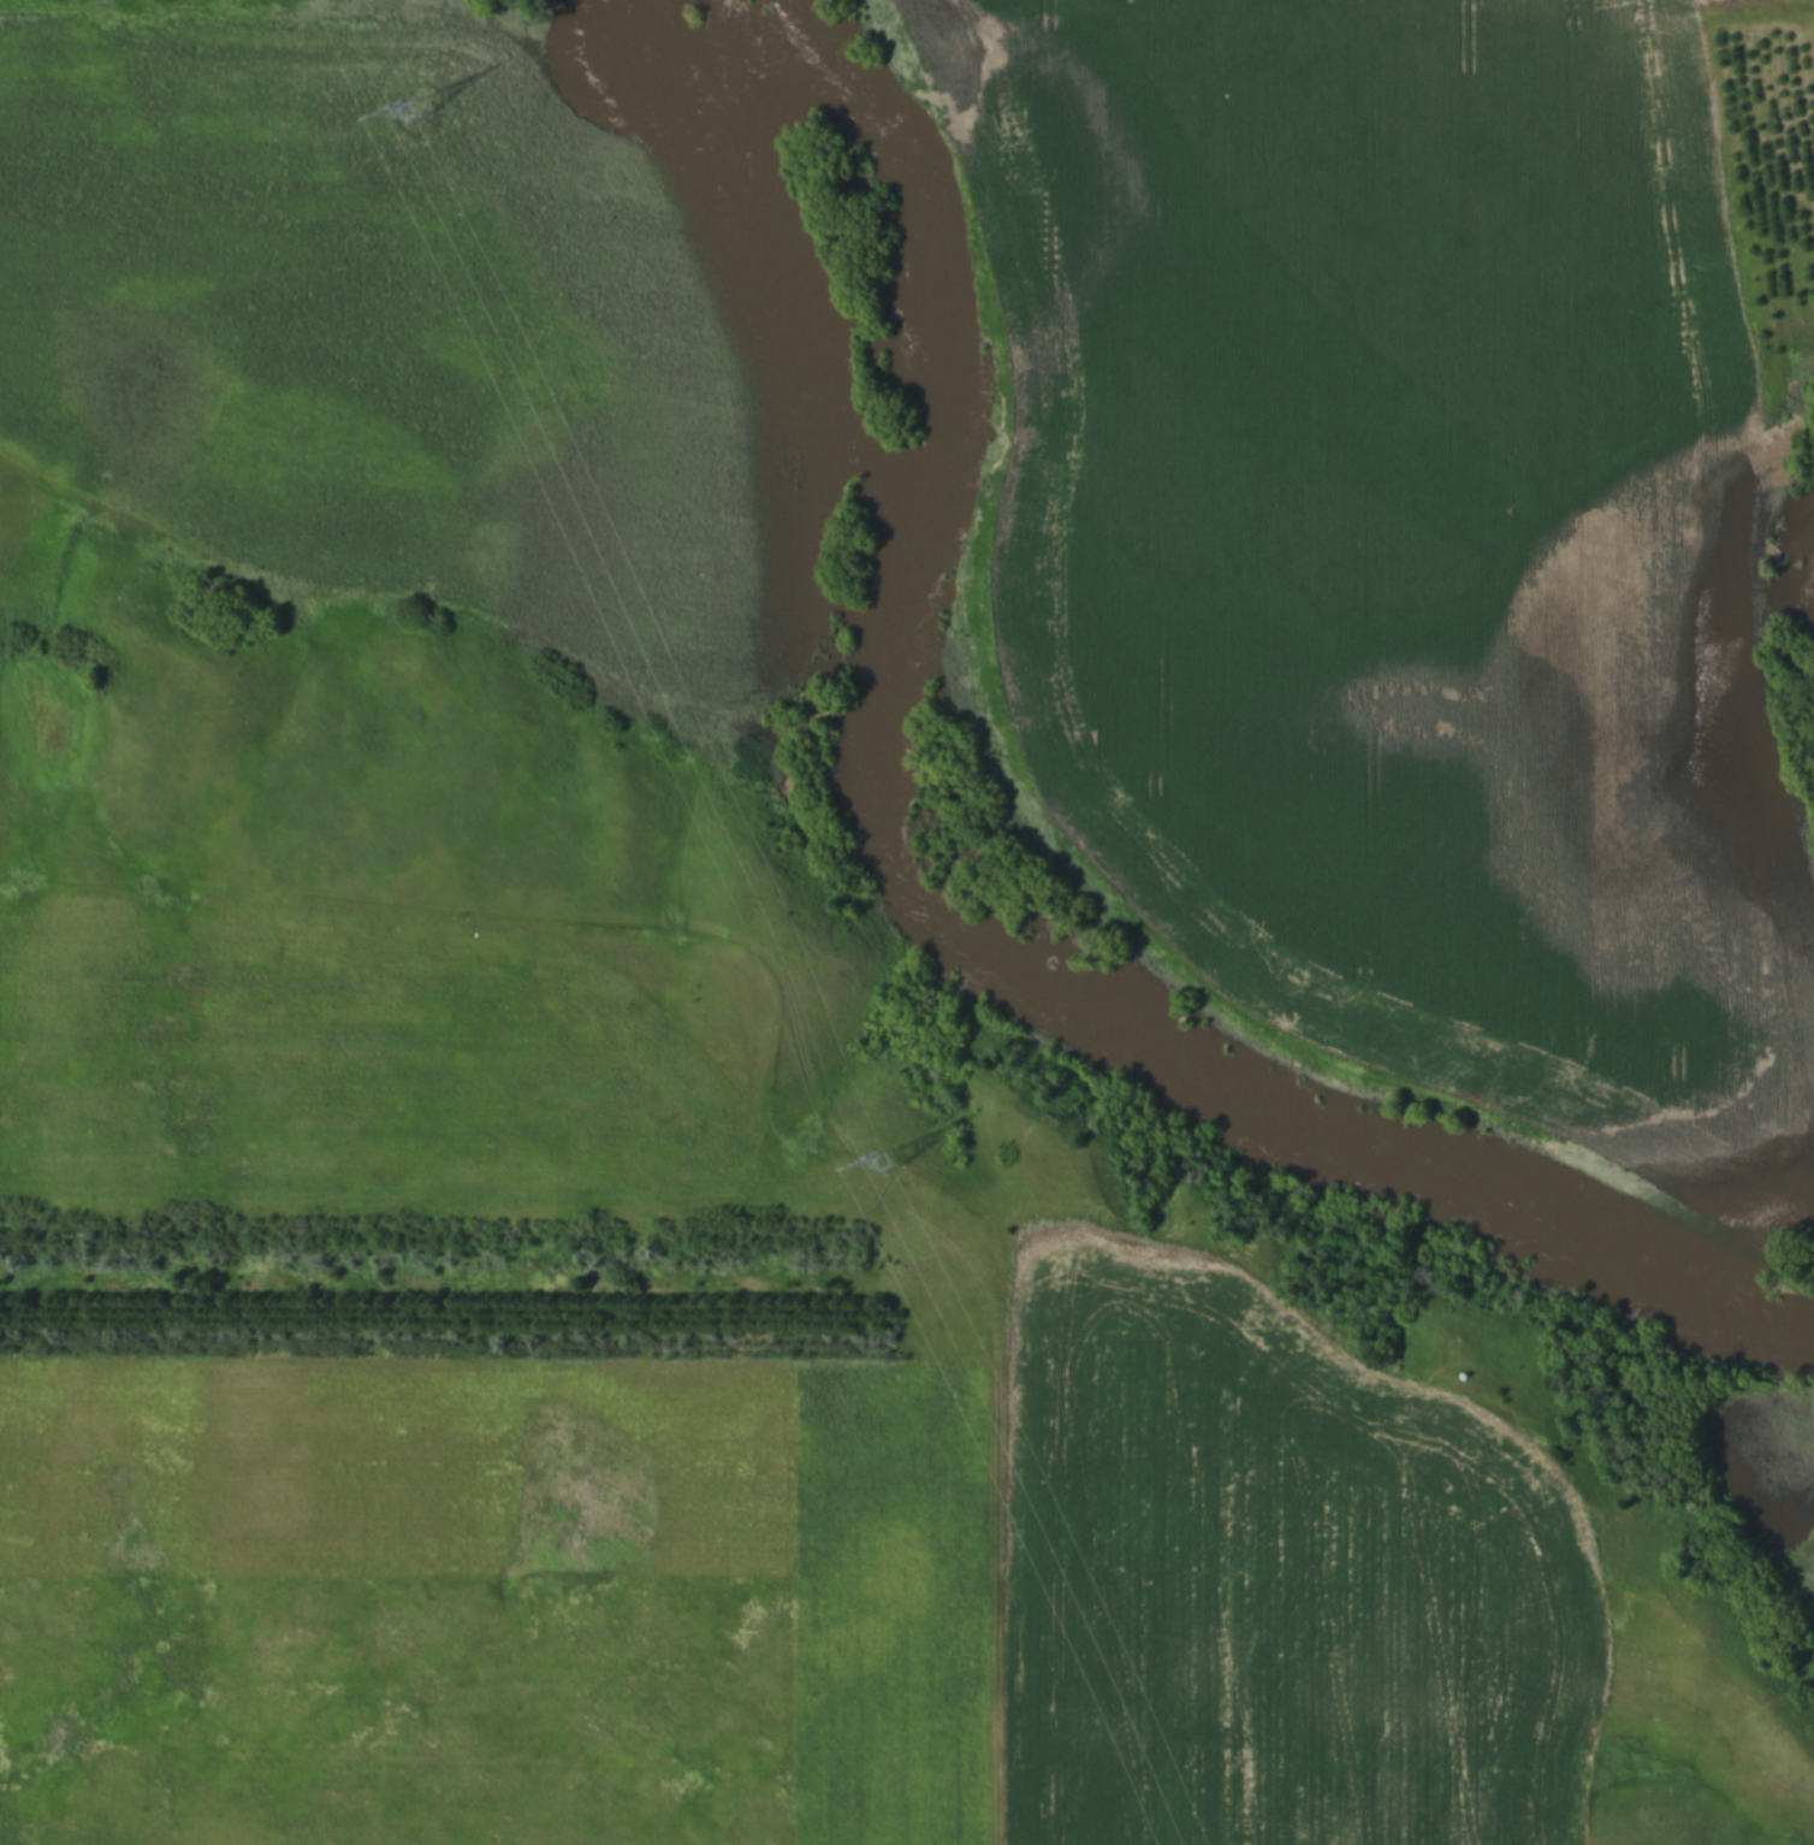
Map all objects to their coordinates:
power tower: (414, 114)
river: (876, 793)
power tower: (894, 1170)

